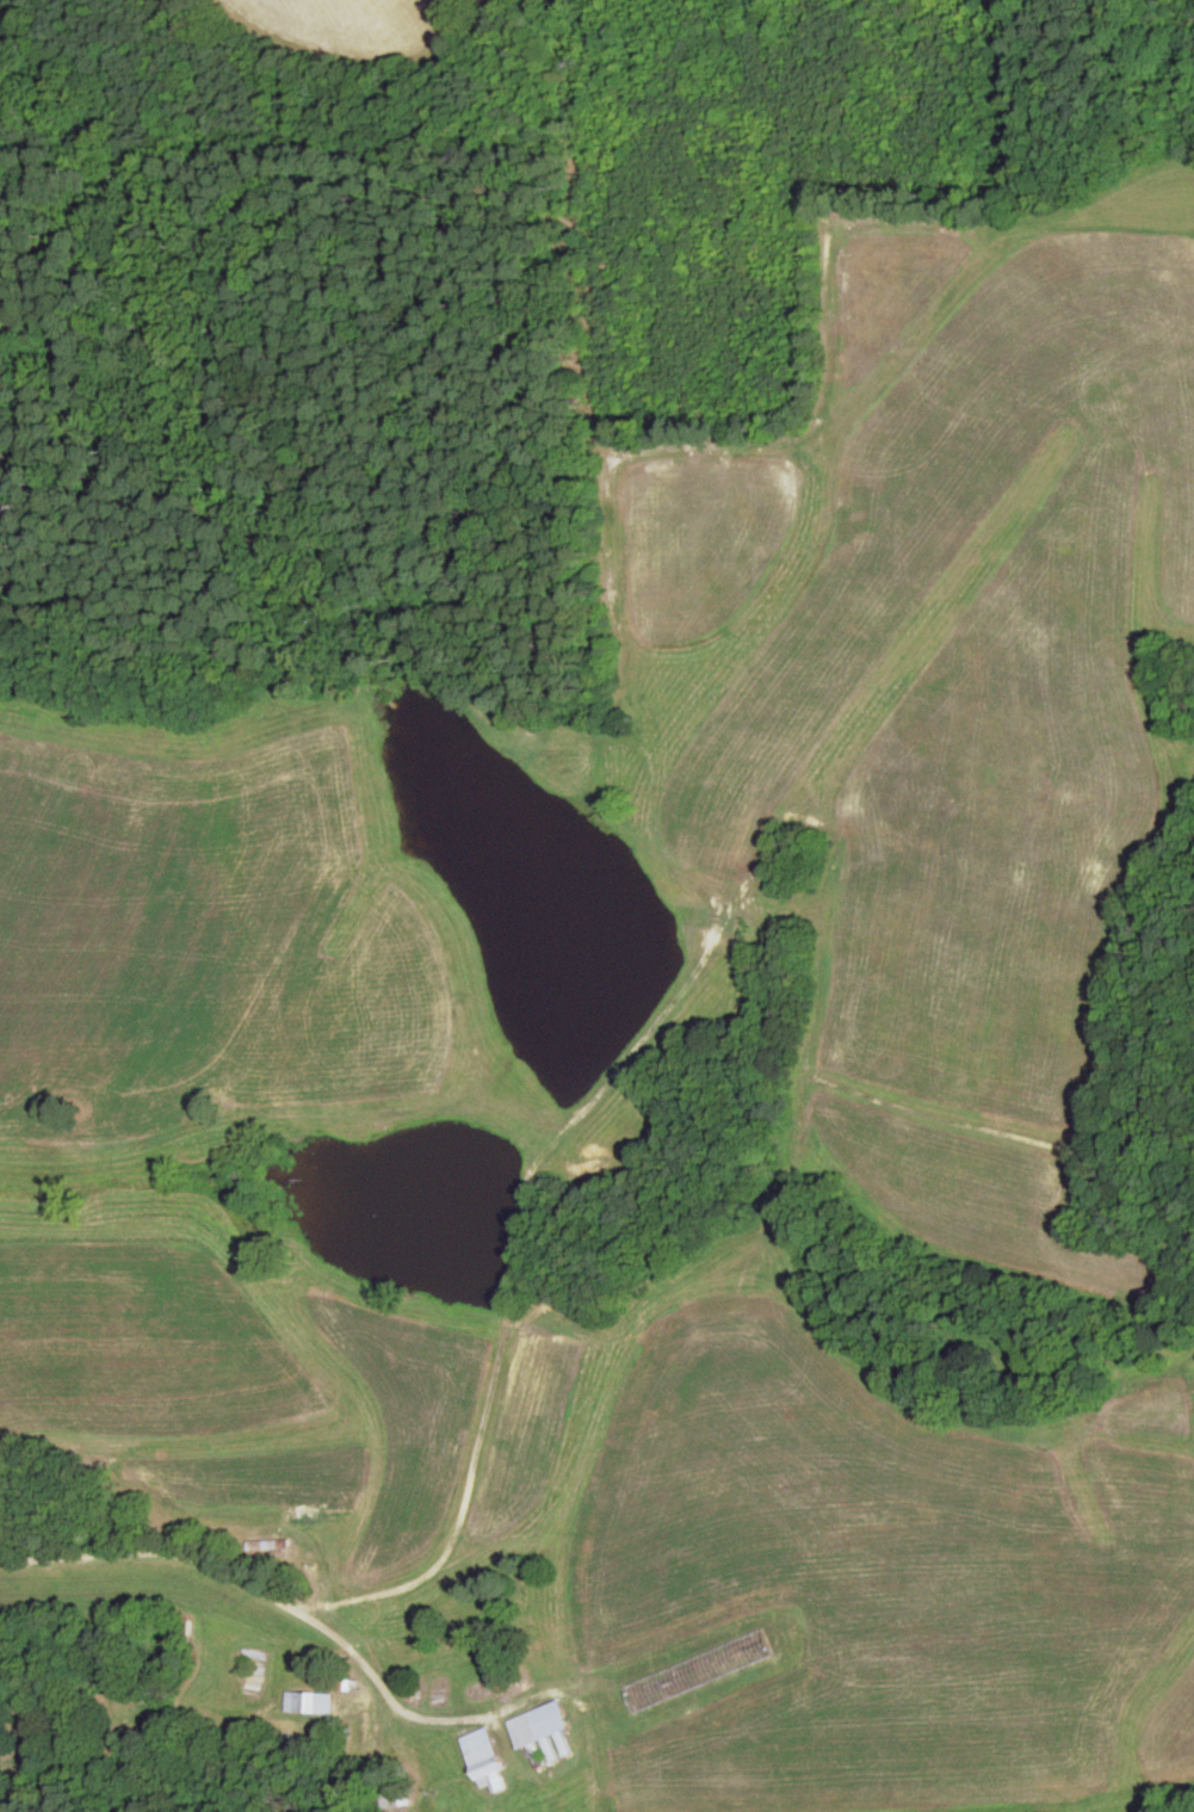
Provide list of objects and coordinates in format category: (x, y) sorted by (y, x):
building: (270, 1544)
road: (280, 1598)
building: (310, 1701)
building: (539, 1724)
building: (485, 1758)

